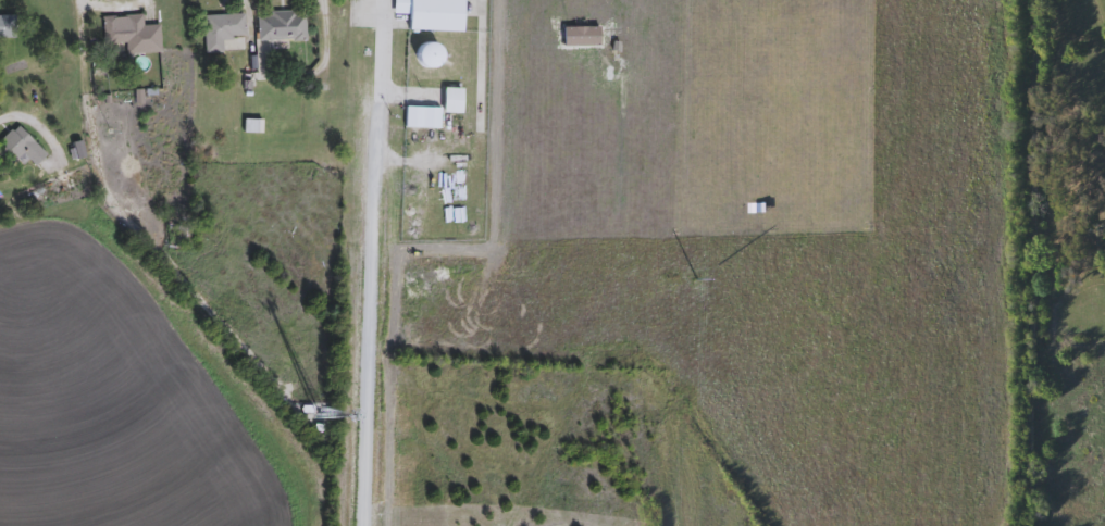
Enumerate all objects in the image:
building: (433, 14)
building: (282, 26)
building: (8, 27)
building: (222, 30)
building: (132, 34)
road: (328, 47)
building: (430, 54)
building: (455, 100)
building: (424, 117)
road: (33, 118)
building: (23, 146)
road: (370, 262)
road: (1033, 262)
power tower: (672, 280)

